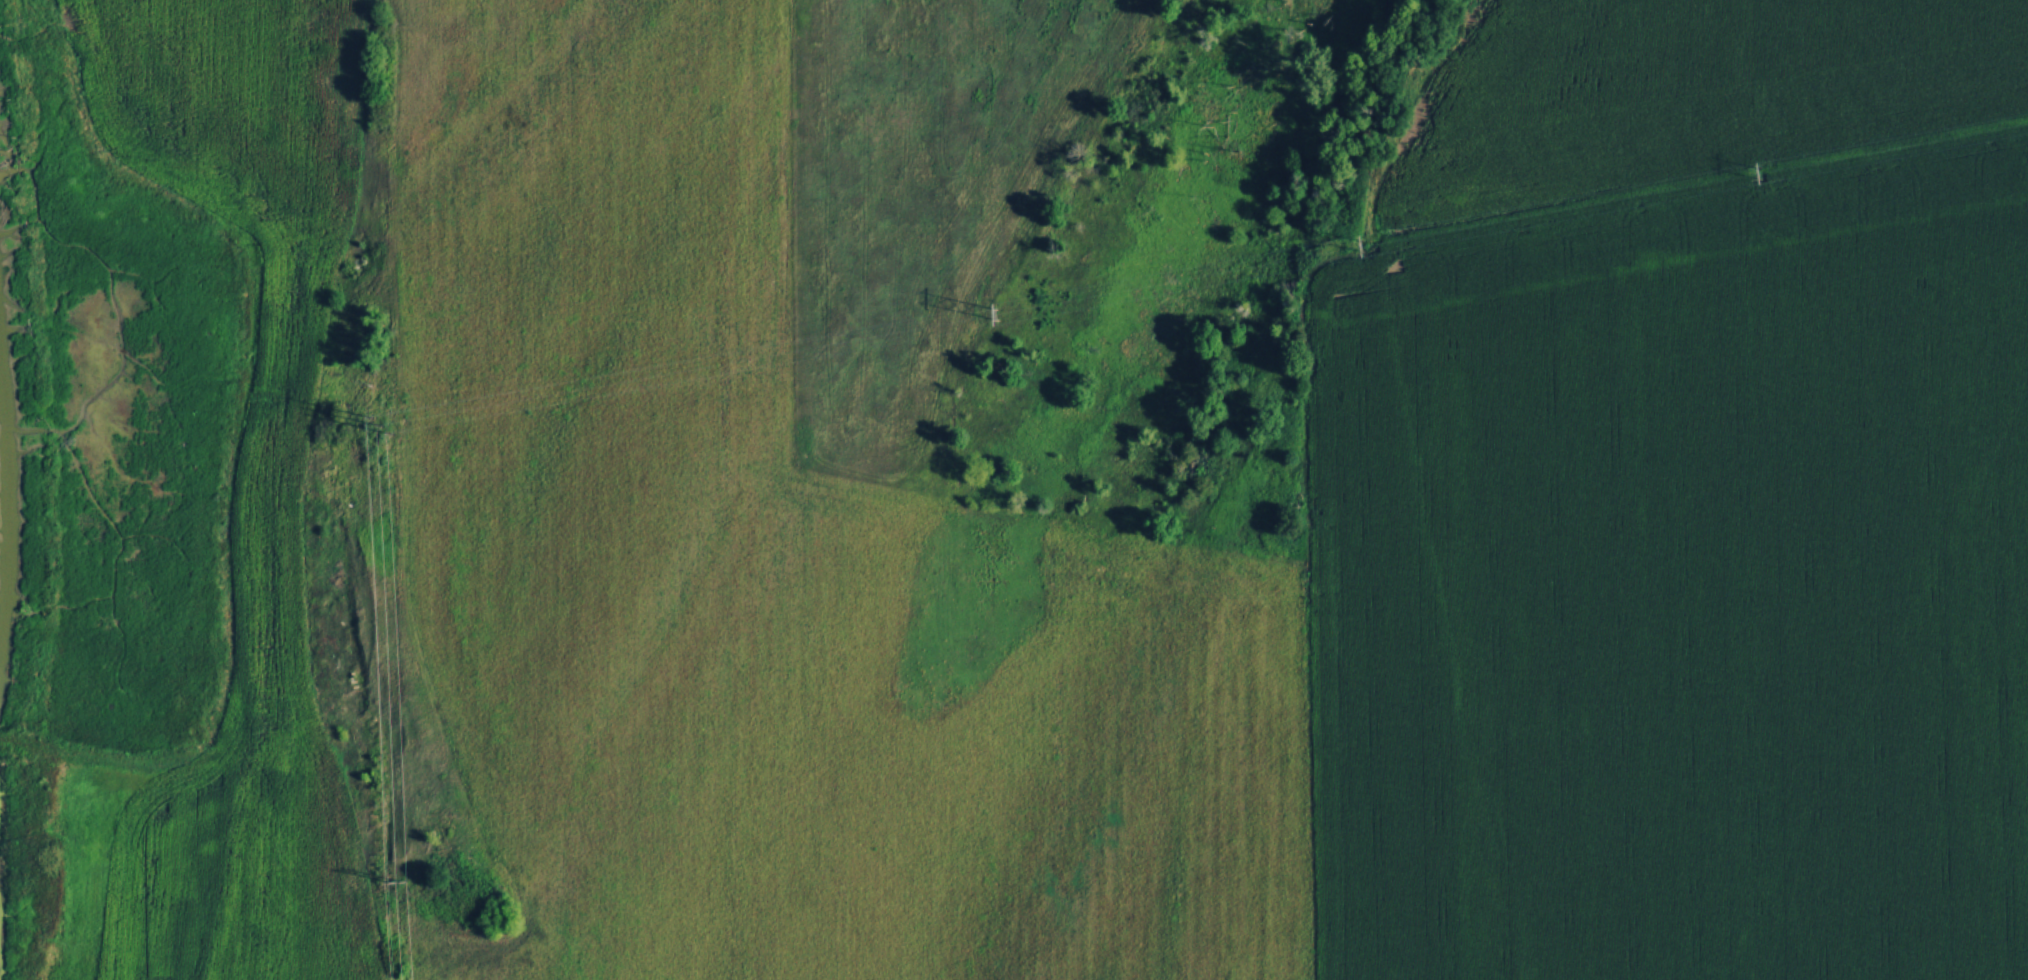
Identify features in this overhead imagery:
power tower: (1772, 171)
power tower: (1377, 243)
power tower: (1011, 310)
power tower: (395, 422)
power tower: (411, 883)

